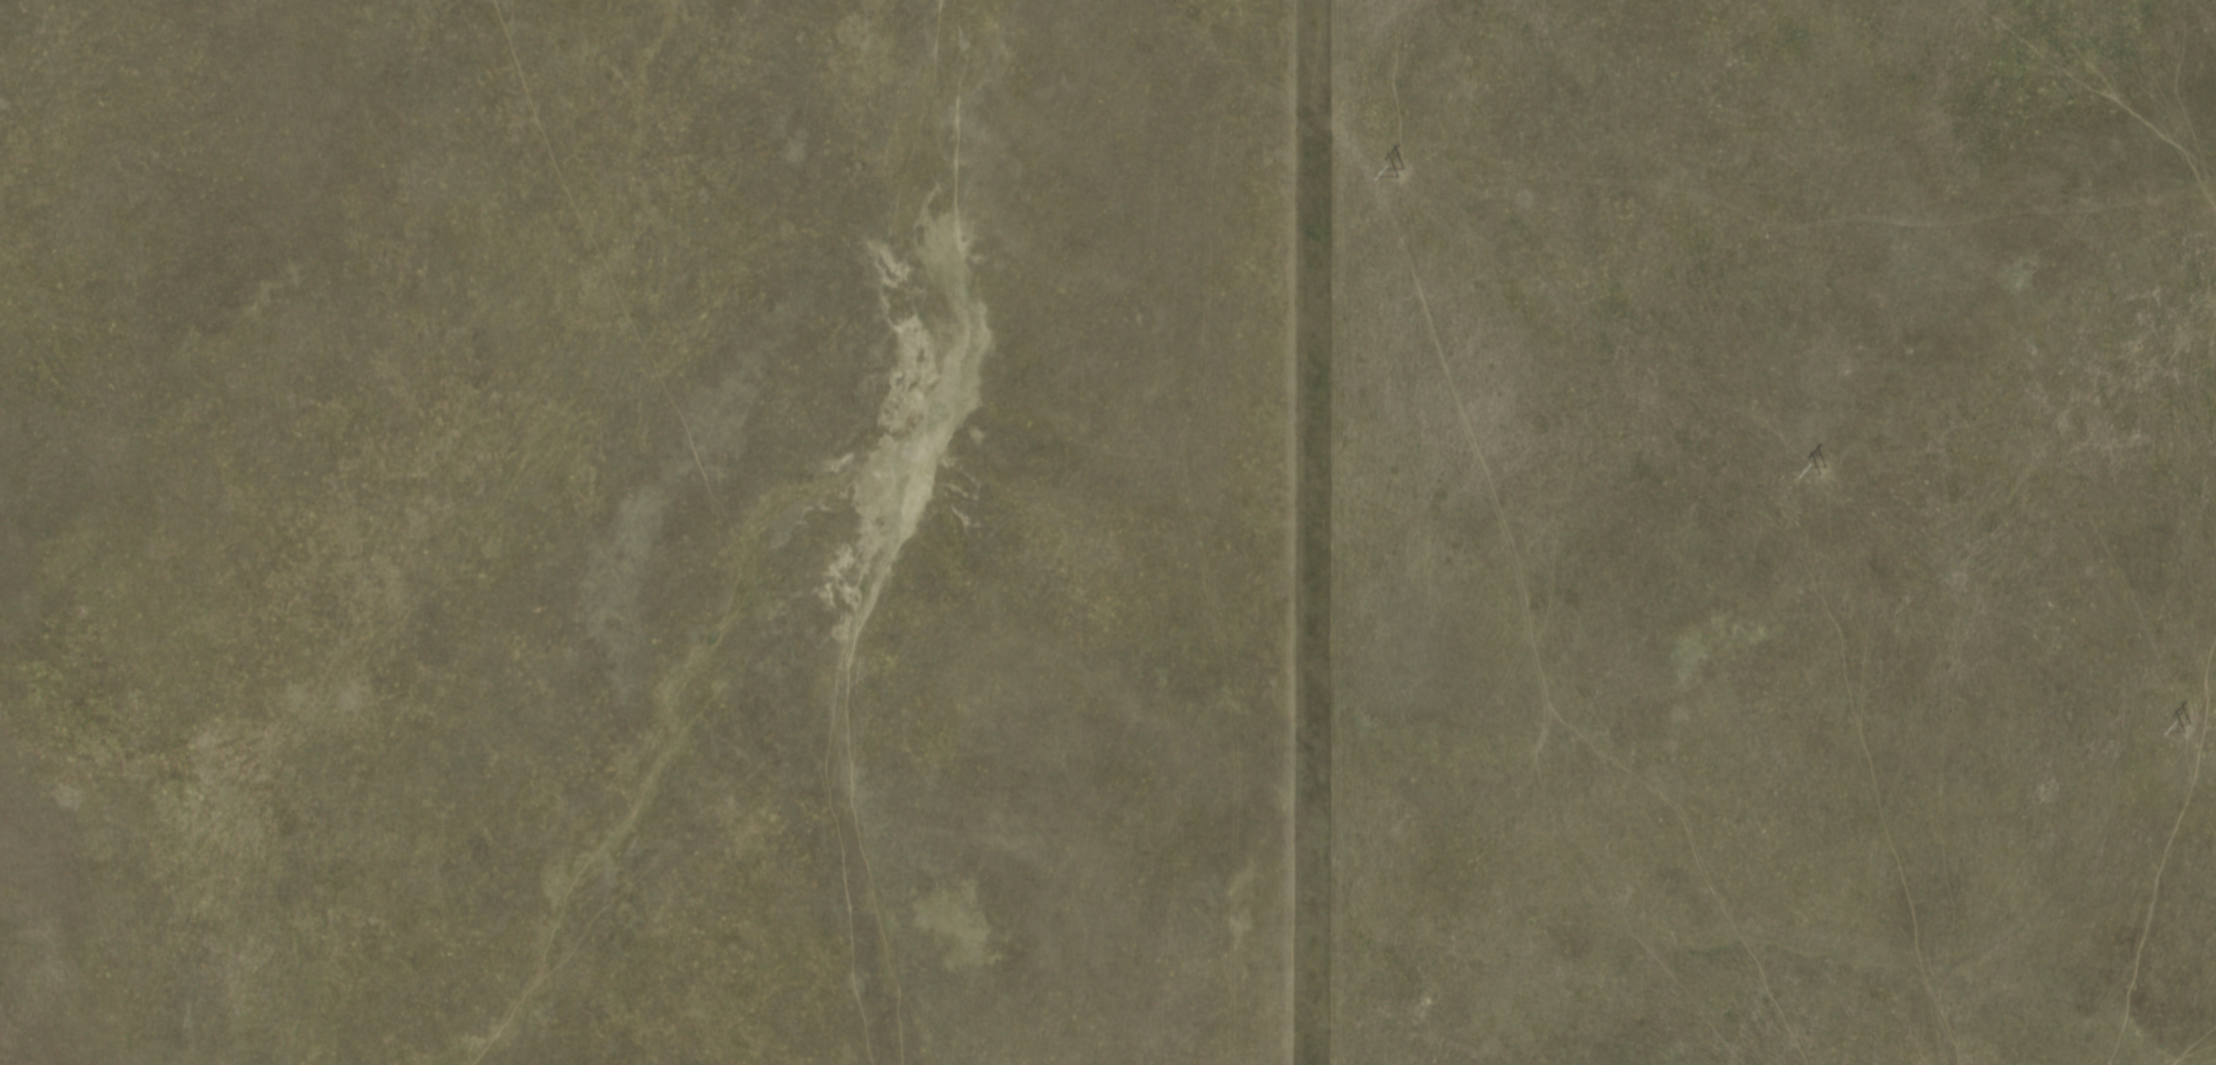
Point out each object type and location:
power tower: (1396, 172)
power tower: (1819, 470)
power tower: (2184, 727)

